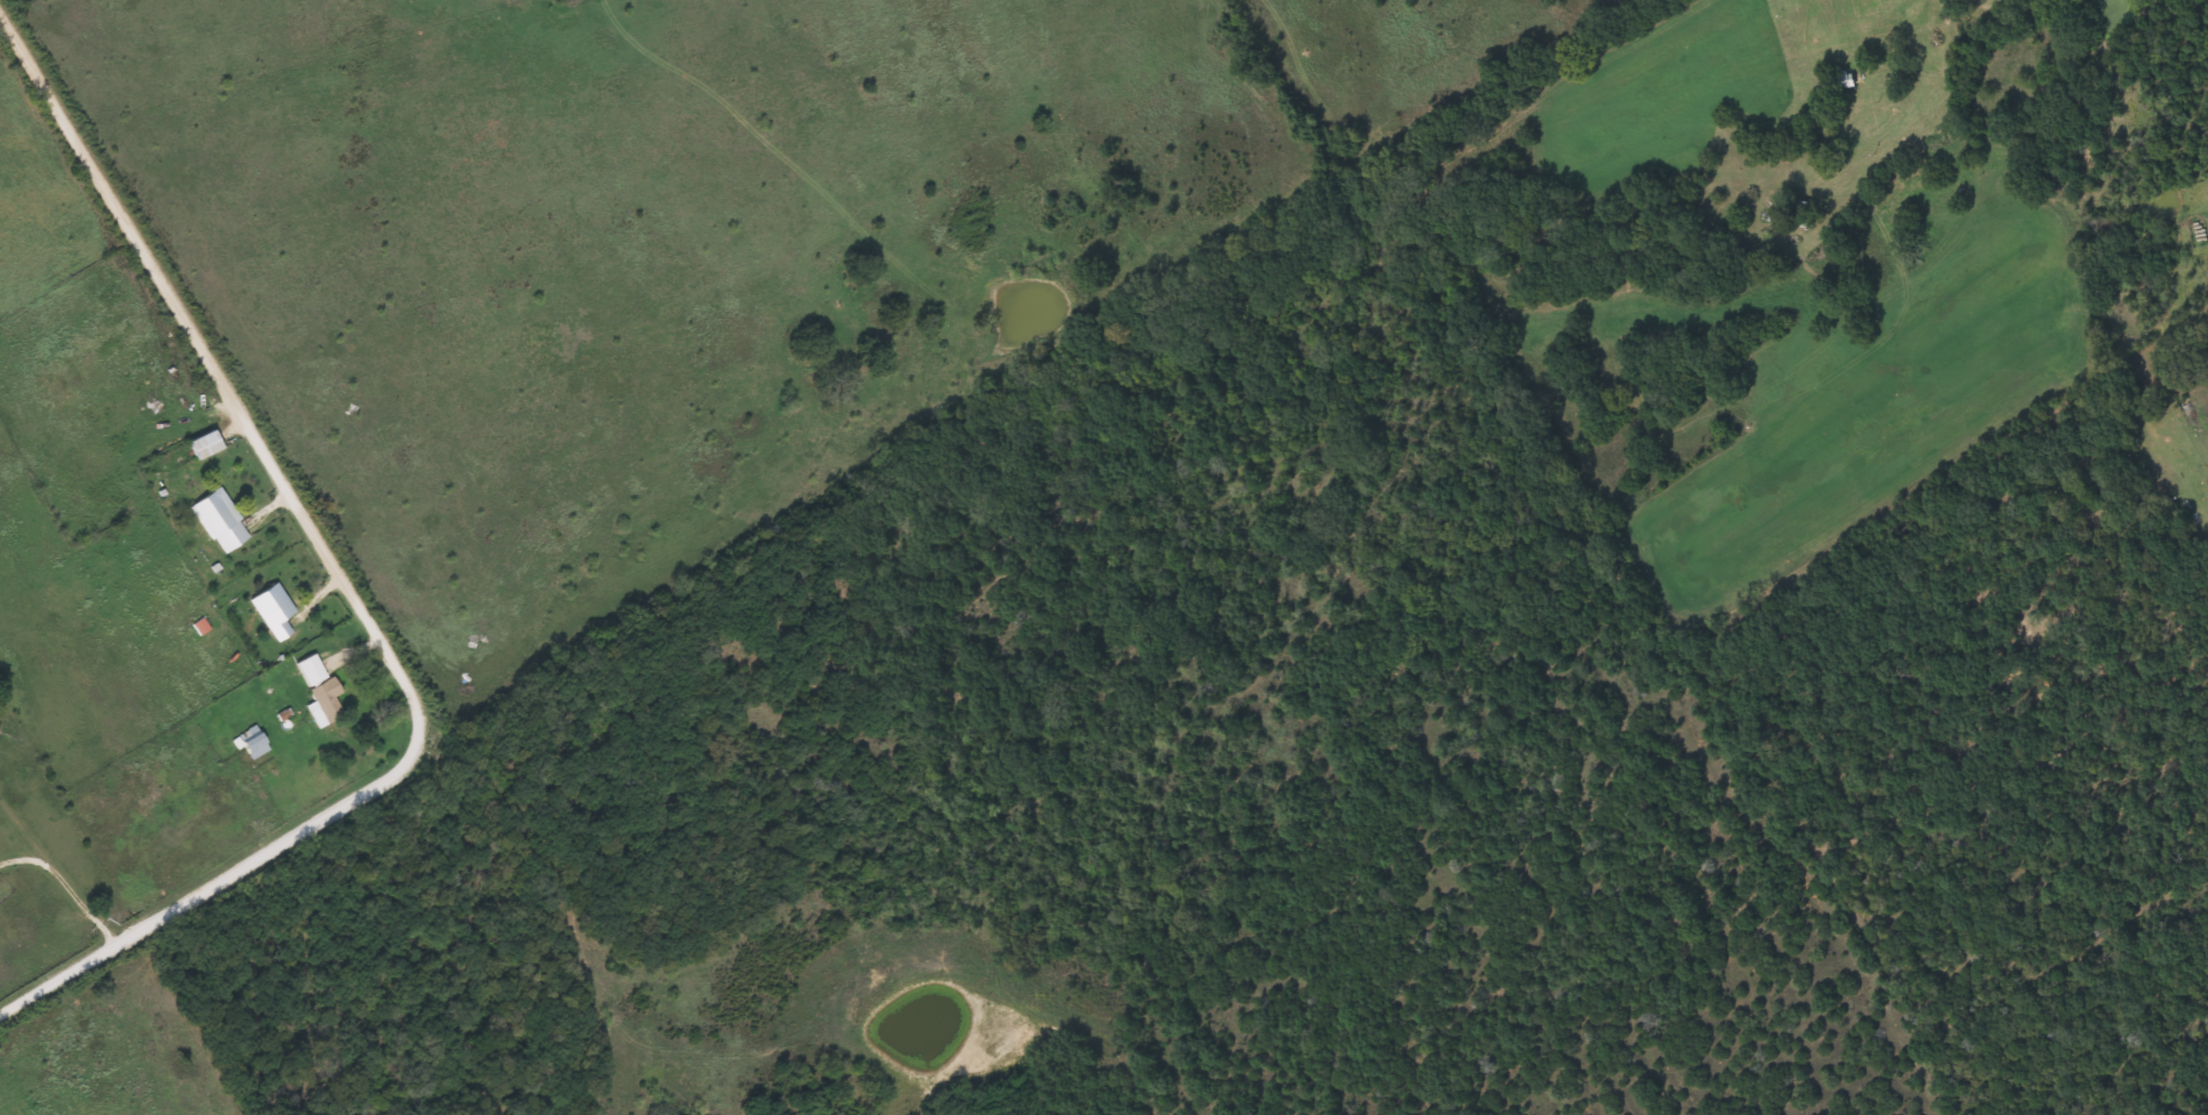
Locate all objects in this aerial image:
building: (1854, 81)
building: (204, 444)
building: (217, 520)
road: (344, 586)
building: (267, 603)
building: (311, 670)
road: (2196, 695)
building: (325, 704)
building: (252, 742)
road: (64, 882)
road: (690, 972)

